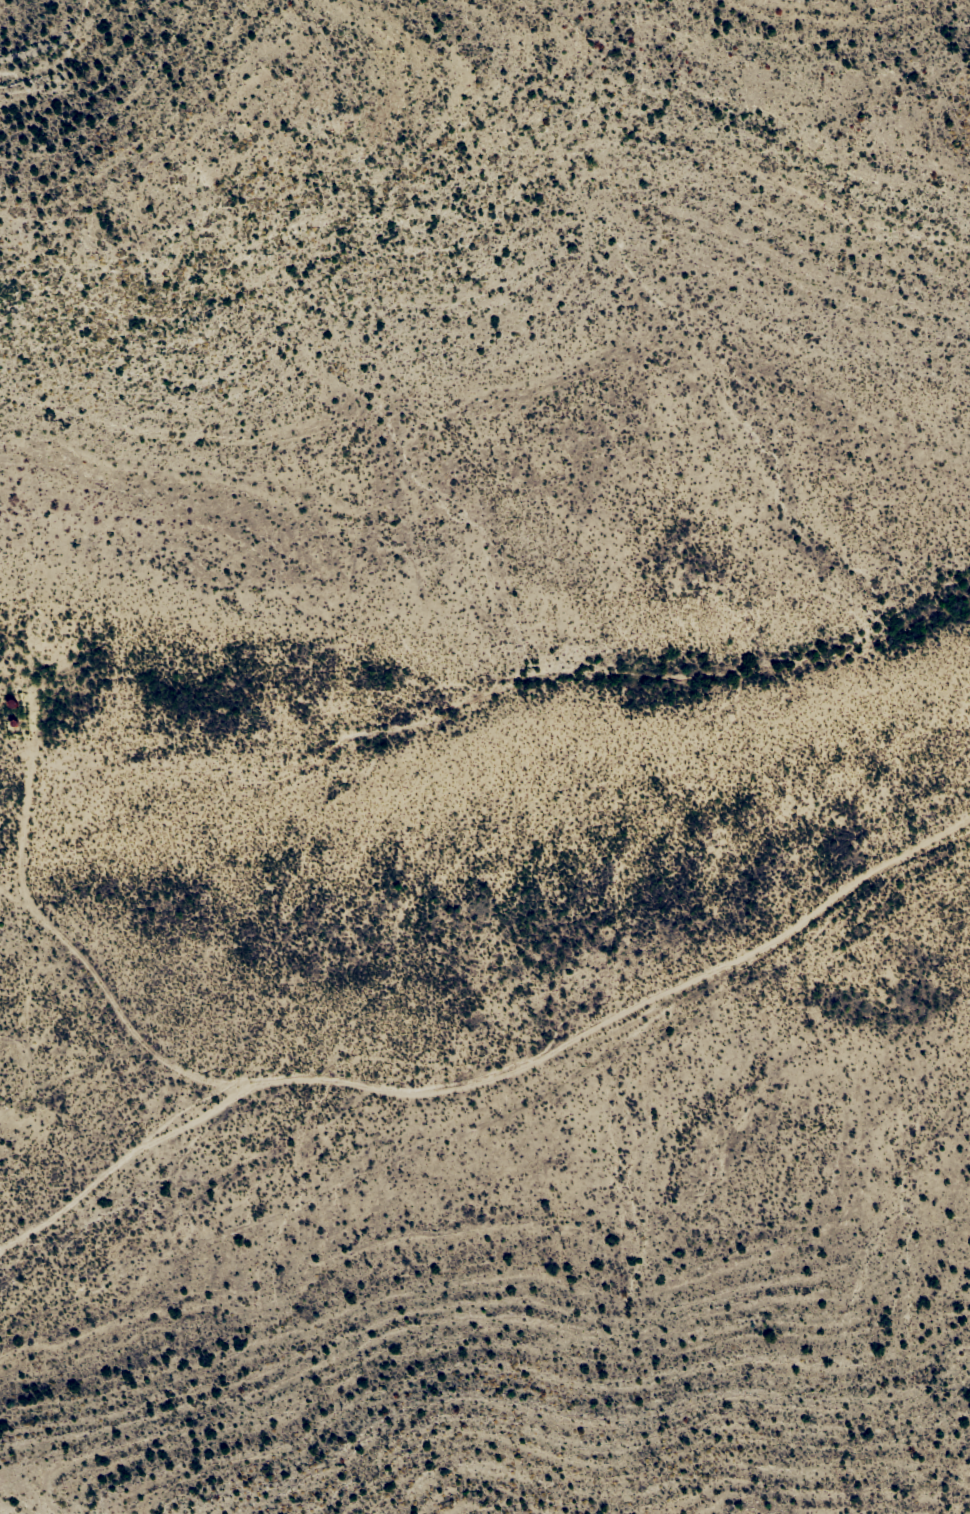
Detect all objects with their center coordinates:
road: (80, 1064)
road: (405, 1064)

